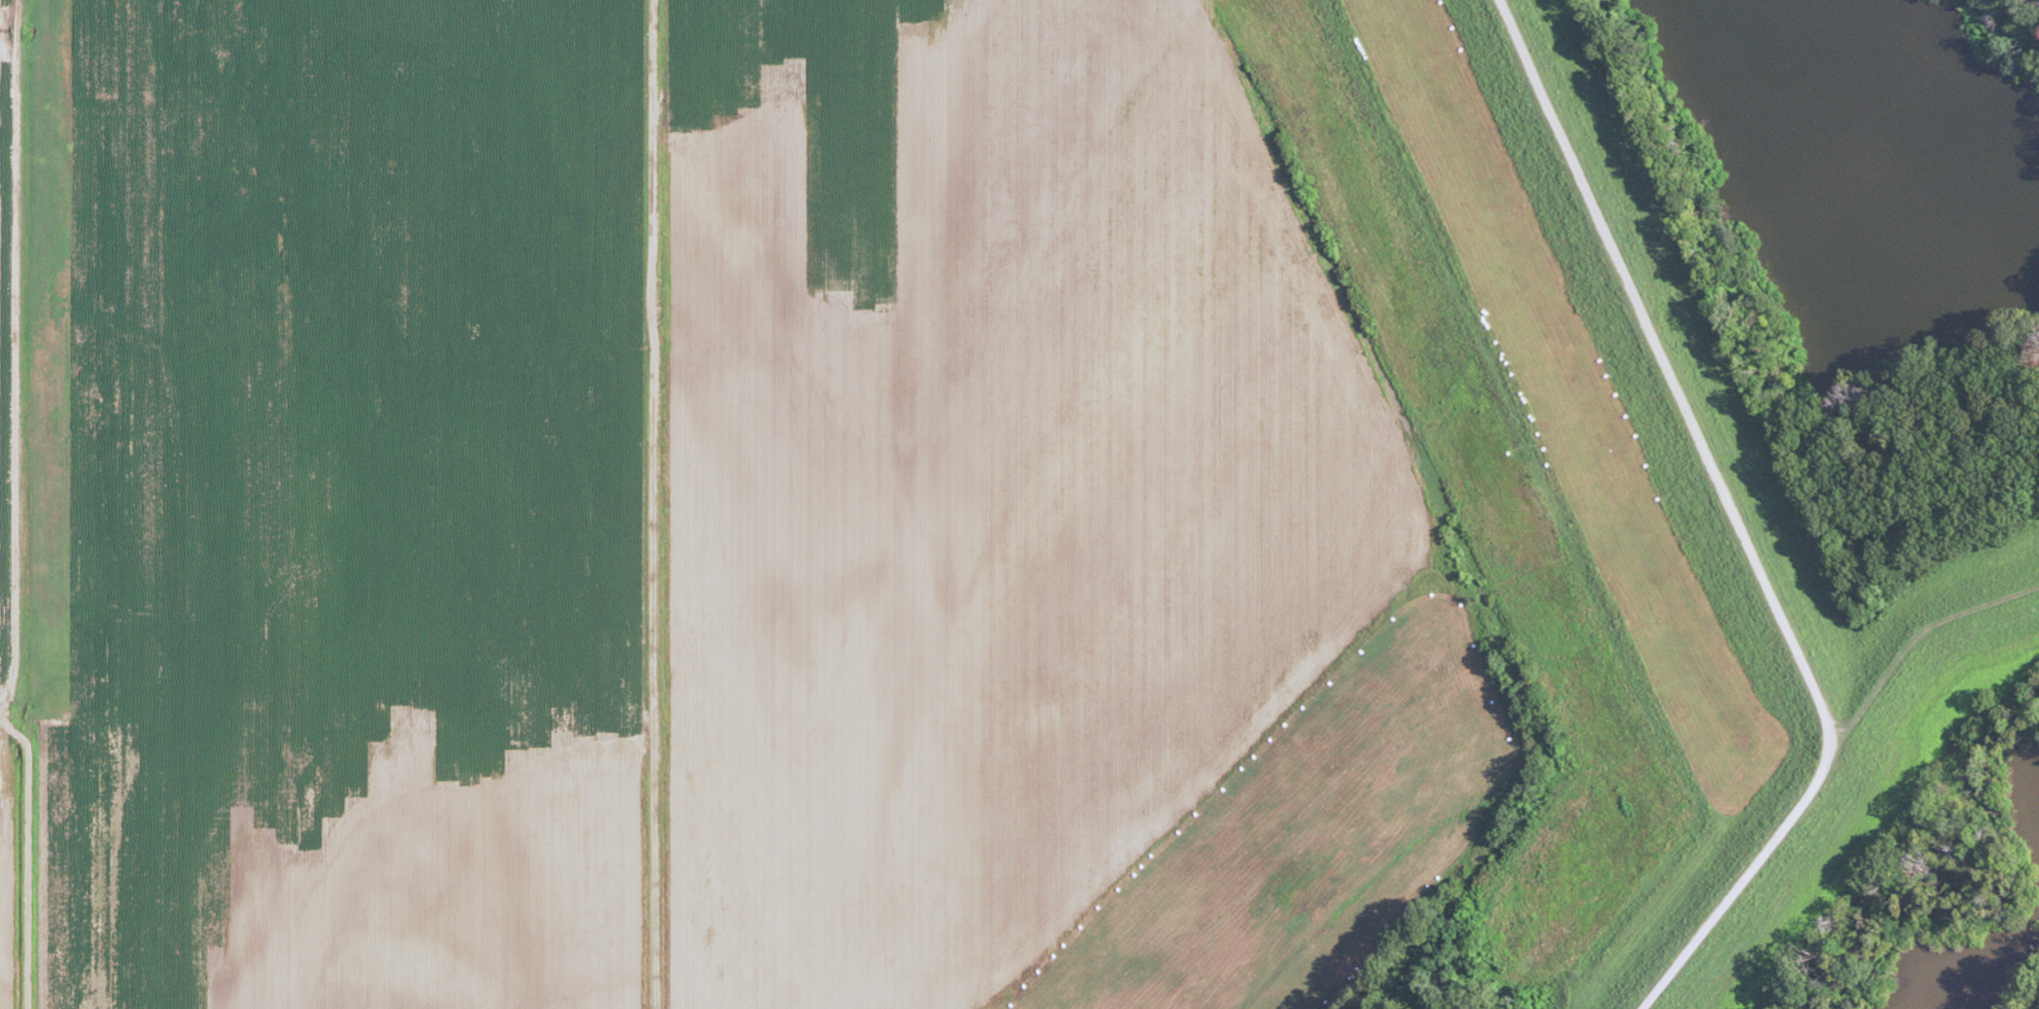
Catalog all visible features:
road: (14, 321)
road: (28, 504)
road: (651, 504)
road: (1734, 520)
road: (1914, 640)
road: (326, 738)

